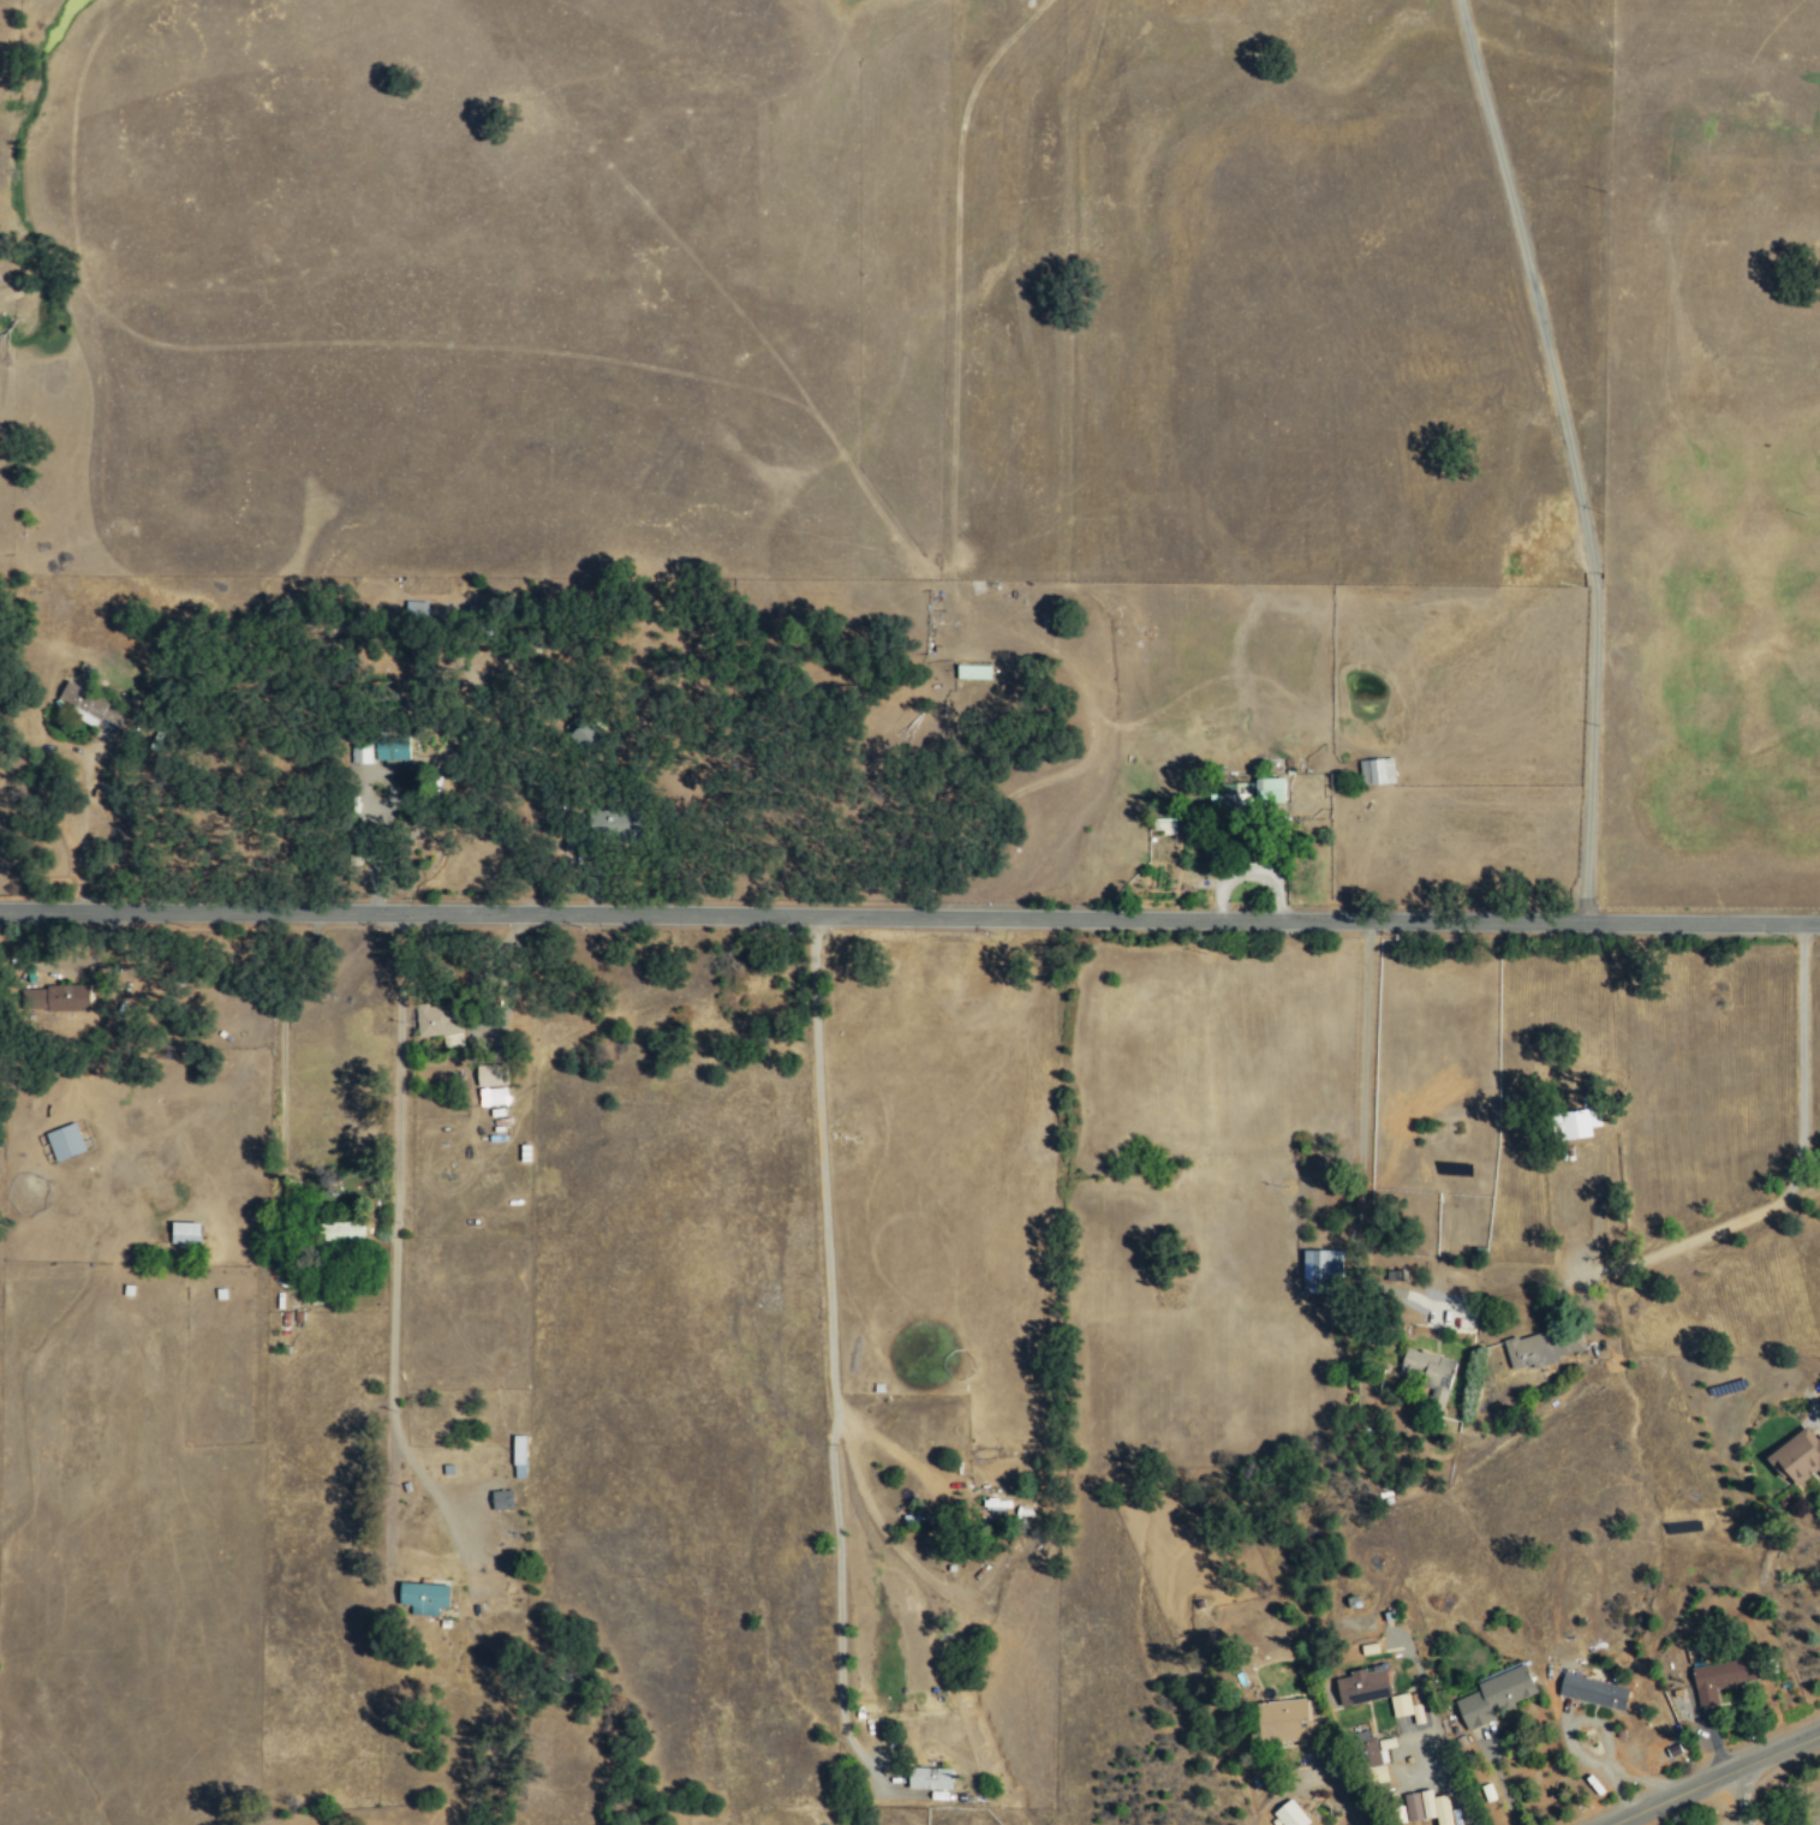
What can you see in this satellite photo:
road: (721, 290)
road: (291, 342)
road: (951, 441)
road: (1568, 455)
road: (930, 584)
building: (971, 673)
building: (88, 708)
building: (390, 752)
building: (360, 753)
building: (1374, 770)
building: (1251, 793)
building: (621, 821)
road: (79, 829)
road: (909, 916)
building: (438, 1024)
building: (491, 1096)
building: (1577, 1123)
building: (62, 1141)
road: (1361, 1146)
building: (340, 1230)
building: (184, 1233)
building: (1320, 1270)
road: (829, 1348)
building: (1538, 1349)
building: (1428, 1372)
building: (1796, 1456)
building: (500, 1501)
building: (422, 1598)
building: (1720, 1677)
building: (1361, 1687)
building: (1592, 1692)
building: (1493, 1696)
building: (1283, 1722)
road: (1439, 1758)
road: (1712, 1777)
building: (929, 1778)
road: (1336, 1787)
road: (1741, 1794)
park: (1813, 1797)
building: (1289, 1814)

